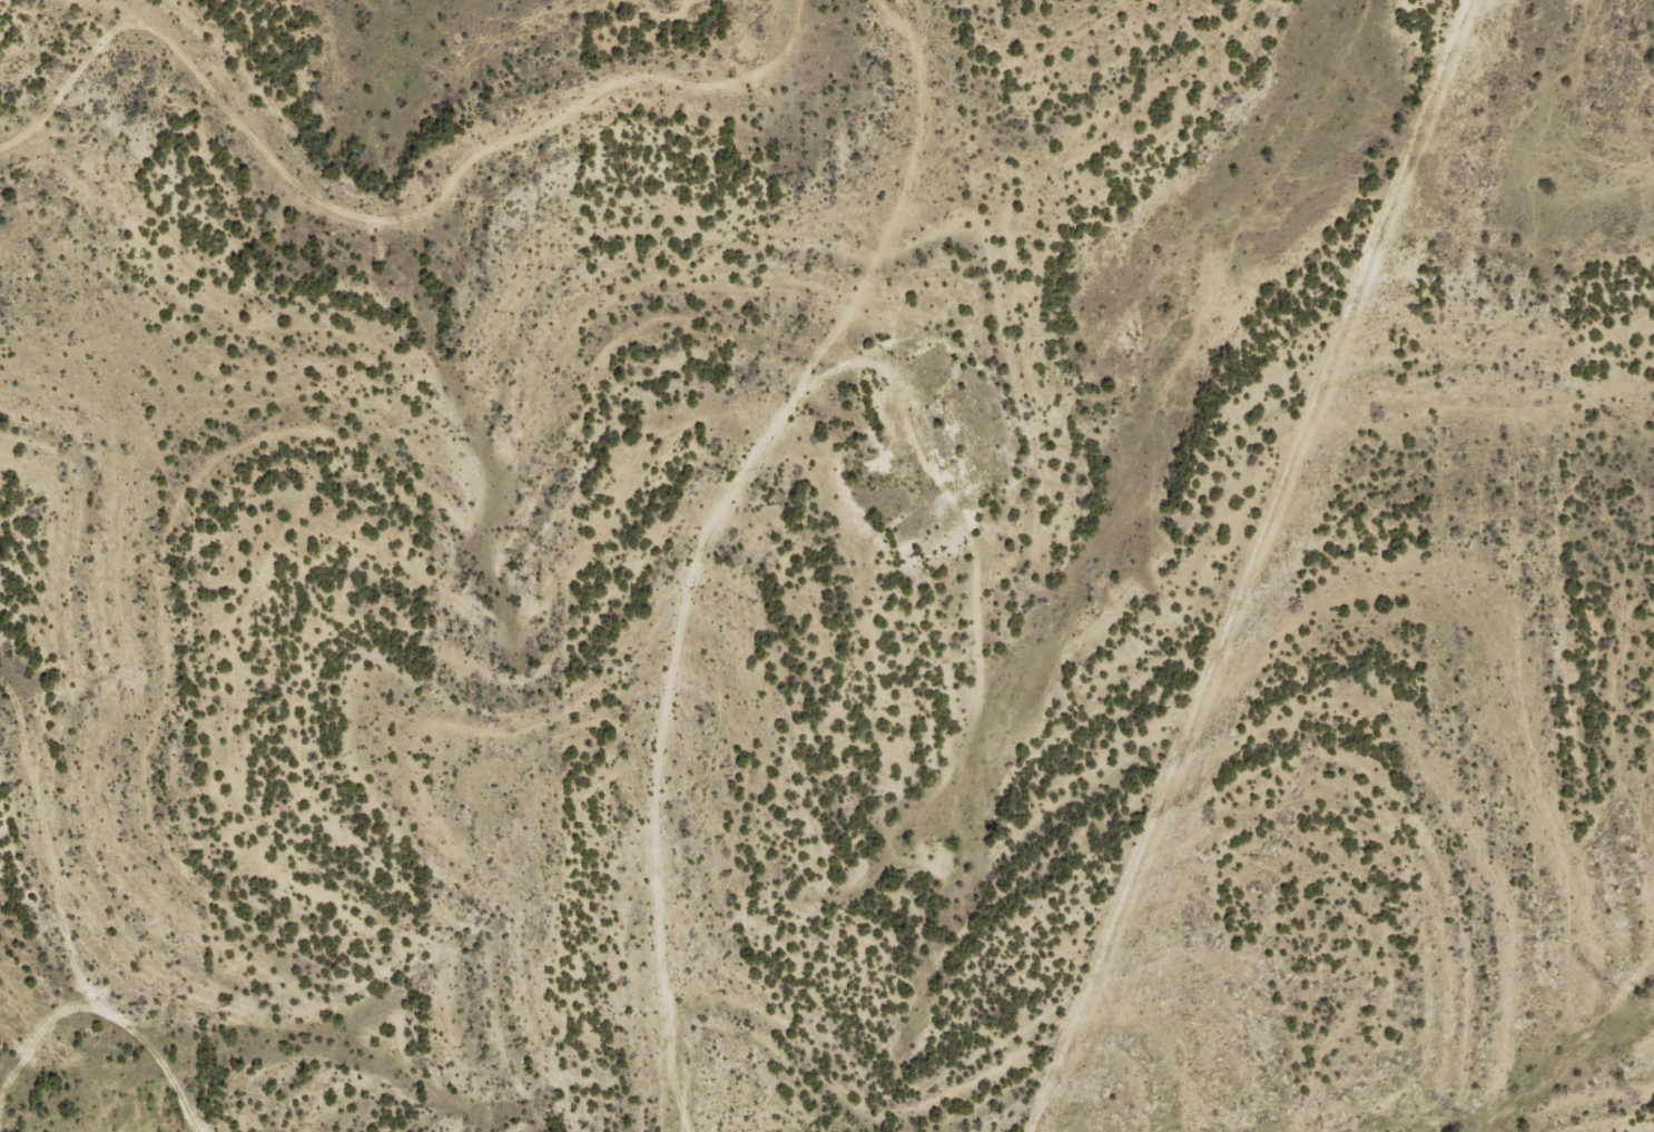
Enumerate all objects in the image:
road: (111, 1045)

